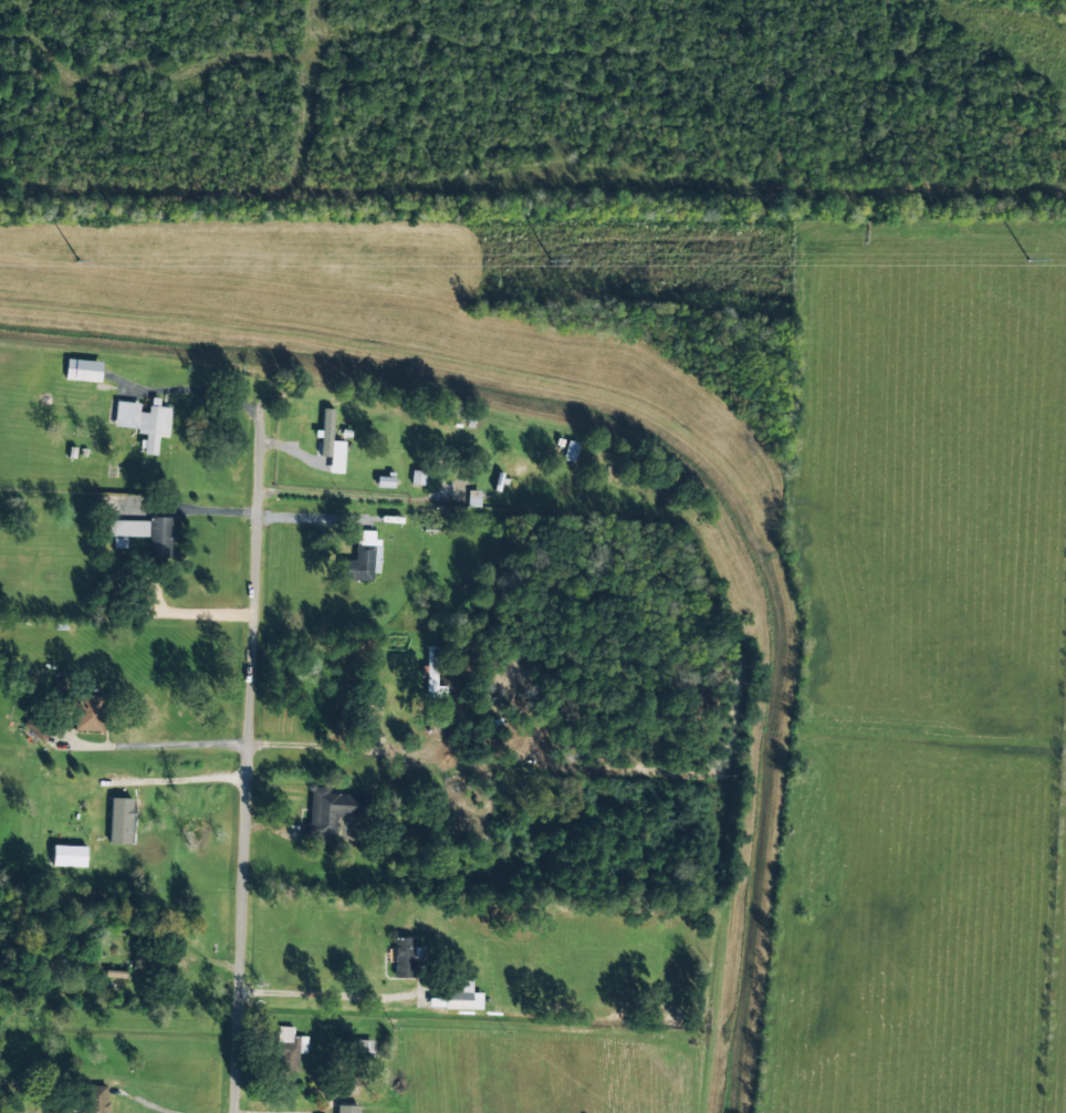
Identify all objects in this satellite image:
building: (83, 370)
building: (145, 422)
building: (331, 444)
building: (128, 528)
building: (160, 537)
building: (362, 558)
building: (433, 675)
building: (90, 712)
road: (247, 761)
building: (327, 811)
building: (121, 821)
building: (69, 855)
building: (404, 957)
building: (462, 996)
building: (289, 1049)
building: (362, 1049)
building: (95, 1099)
road: (151, 1106)
building: (346, 1109)

